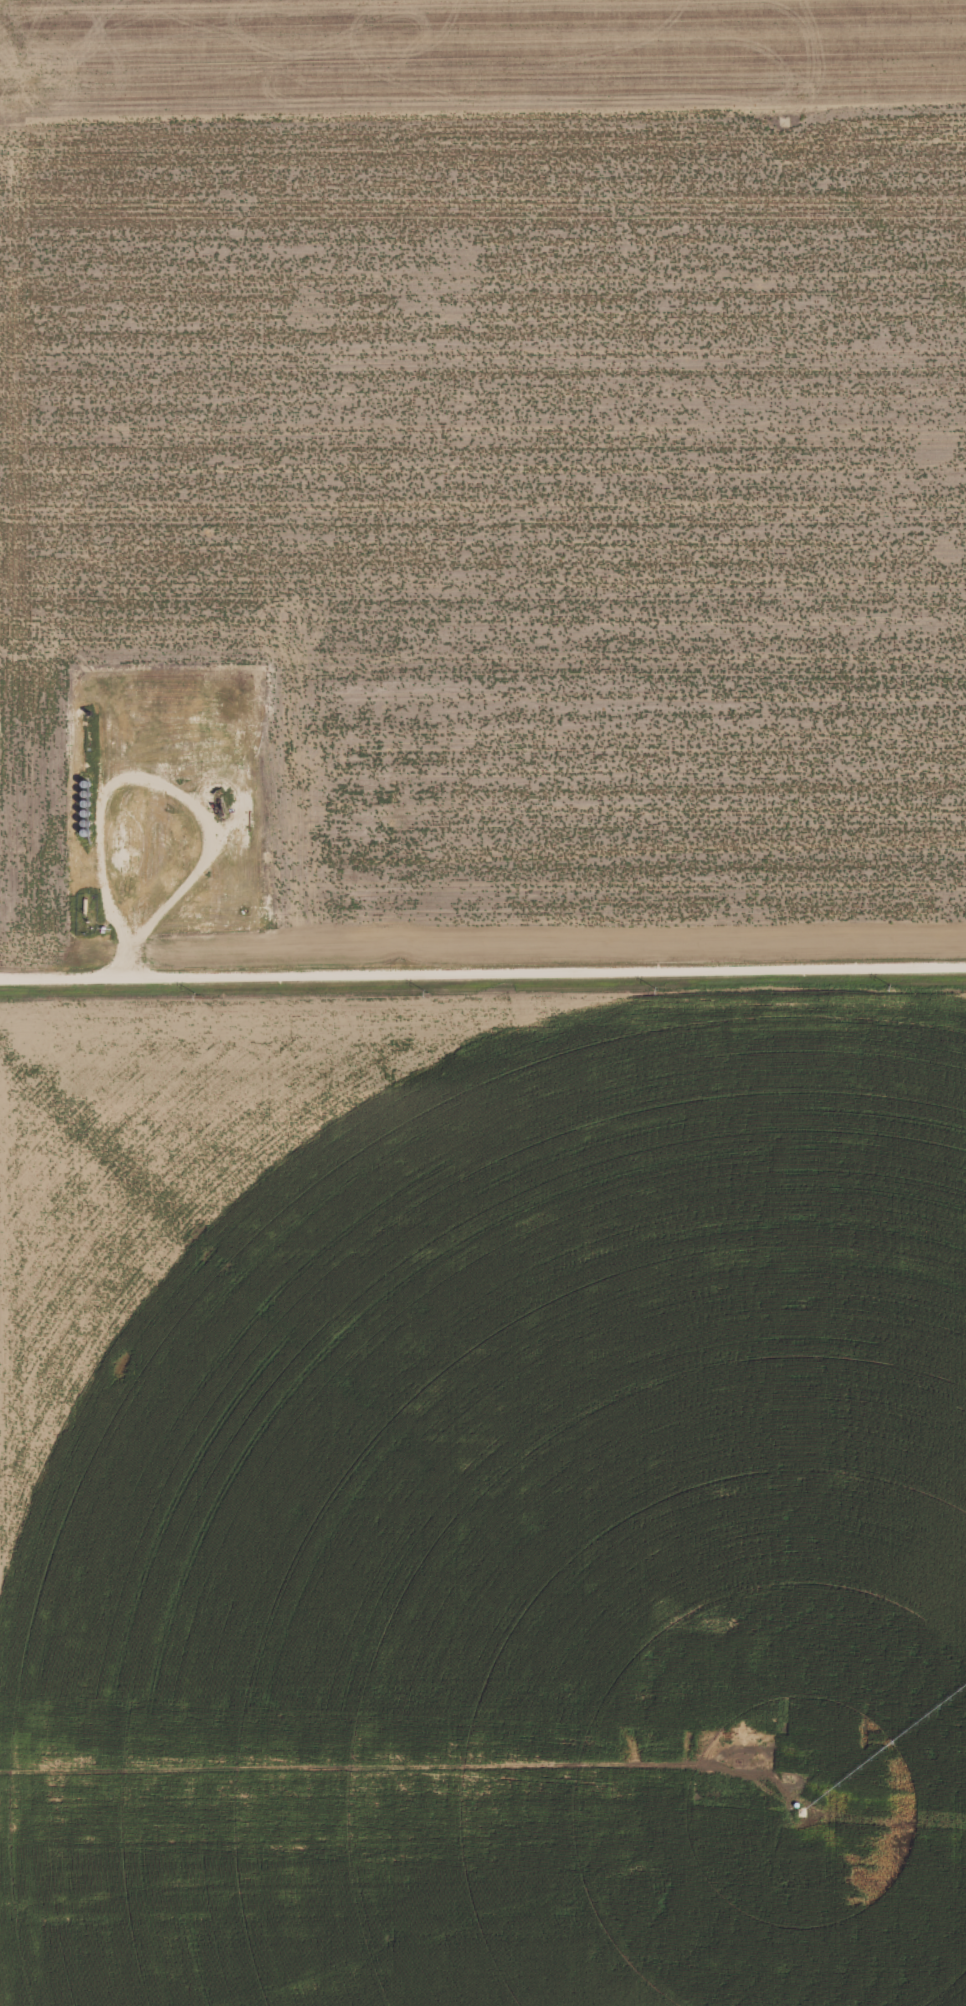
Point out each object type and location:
road: (482, 969)

